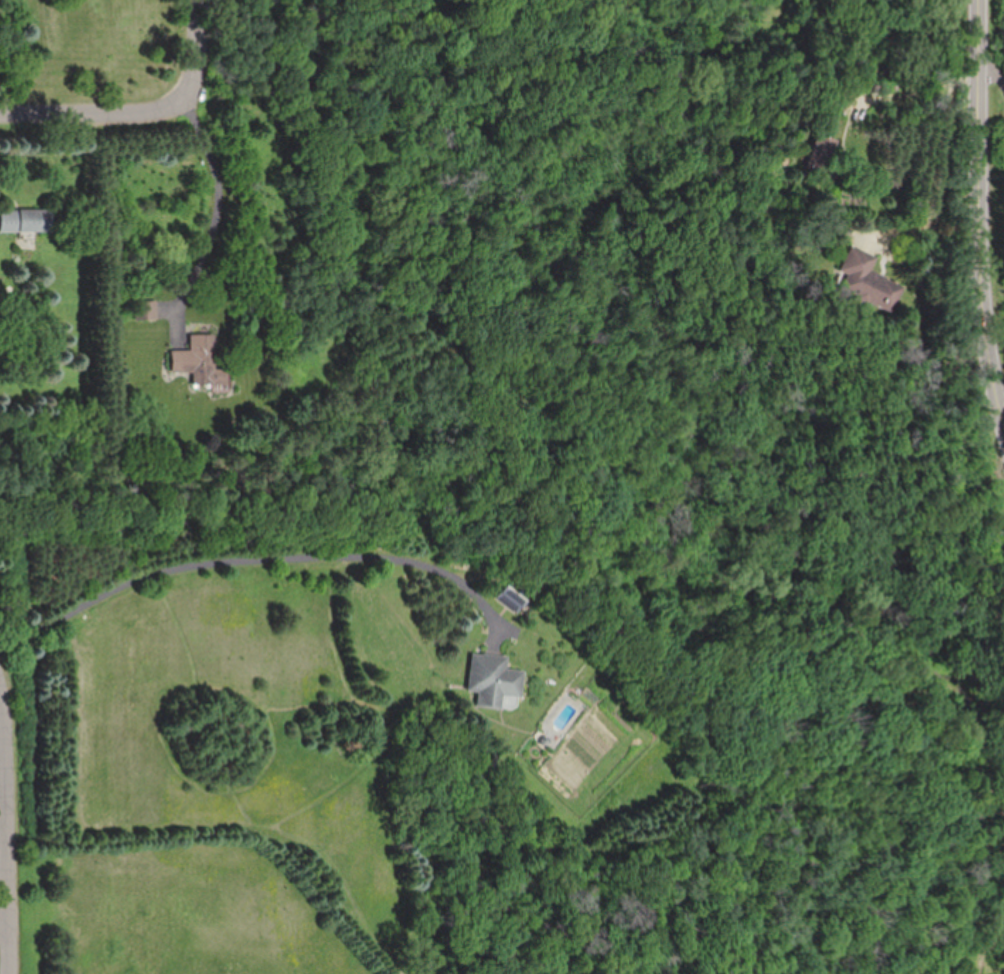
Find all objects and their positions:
road: (189, 50)
road: (993, 101)
road: (89, 116)
building: (820, 148)
road: (946, 166)
road: (215, 196)
road: (987, 199)
building: (27, 220)
building: (866, 280)
building: (199, 361)
road: (261, 558)
building: (512, 598)
building: (494, 680)
road: (4, 793)
road: (9, 802)
road: (4, 925)
road: (5, 948)

